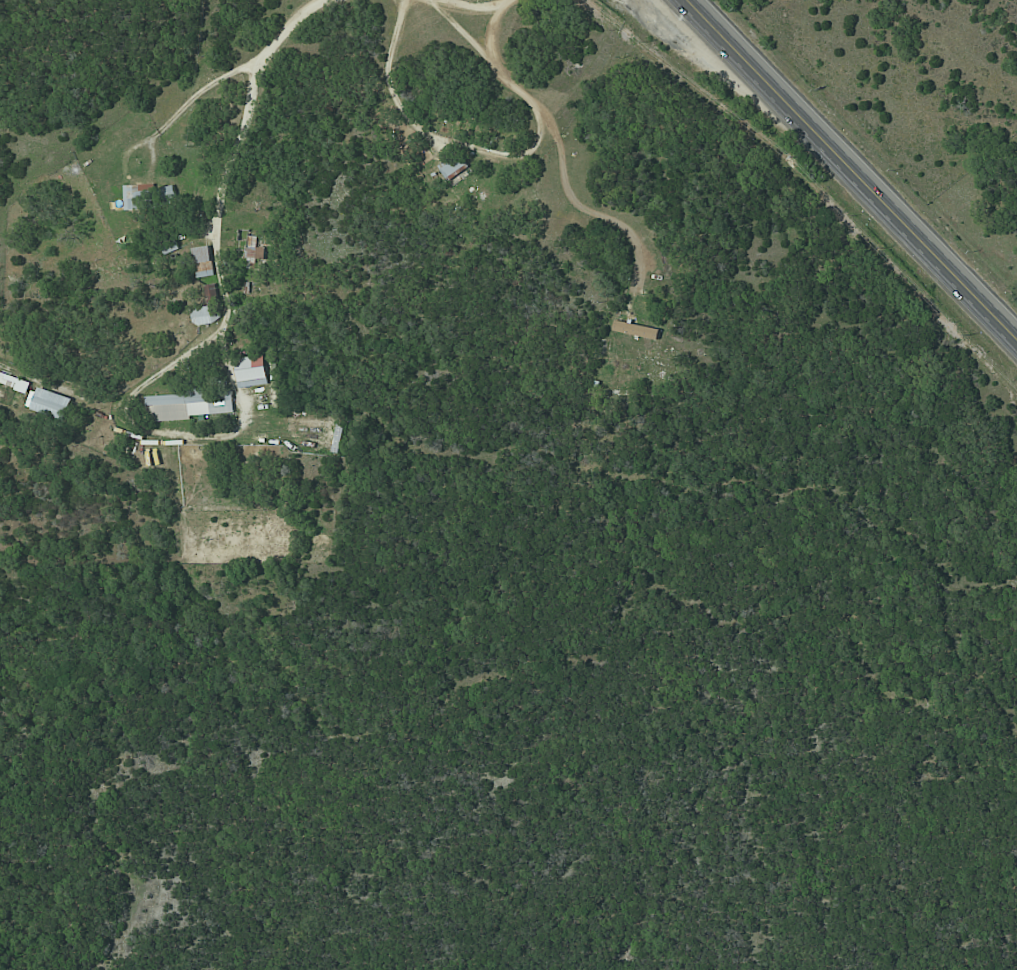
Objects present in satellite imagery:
road: (981, 1)
road: (474, 5)
road: (997, 29)
road: (465, 35)
road: (282, 37)
road: (188, 106)
road: (489, 151)
building: (453, 168)
road: (852, 169)
road: (584, 210)
building: (256, 249)
building: (202, 261)
building: (211, 291)
building: (204, 315)
building: (636, 330)
road: (190, 352)
building: (251, 371)
building: (14, 381)
road: (62, 386)
building: (49, 403)
building: (188, 405)

